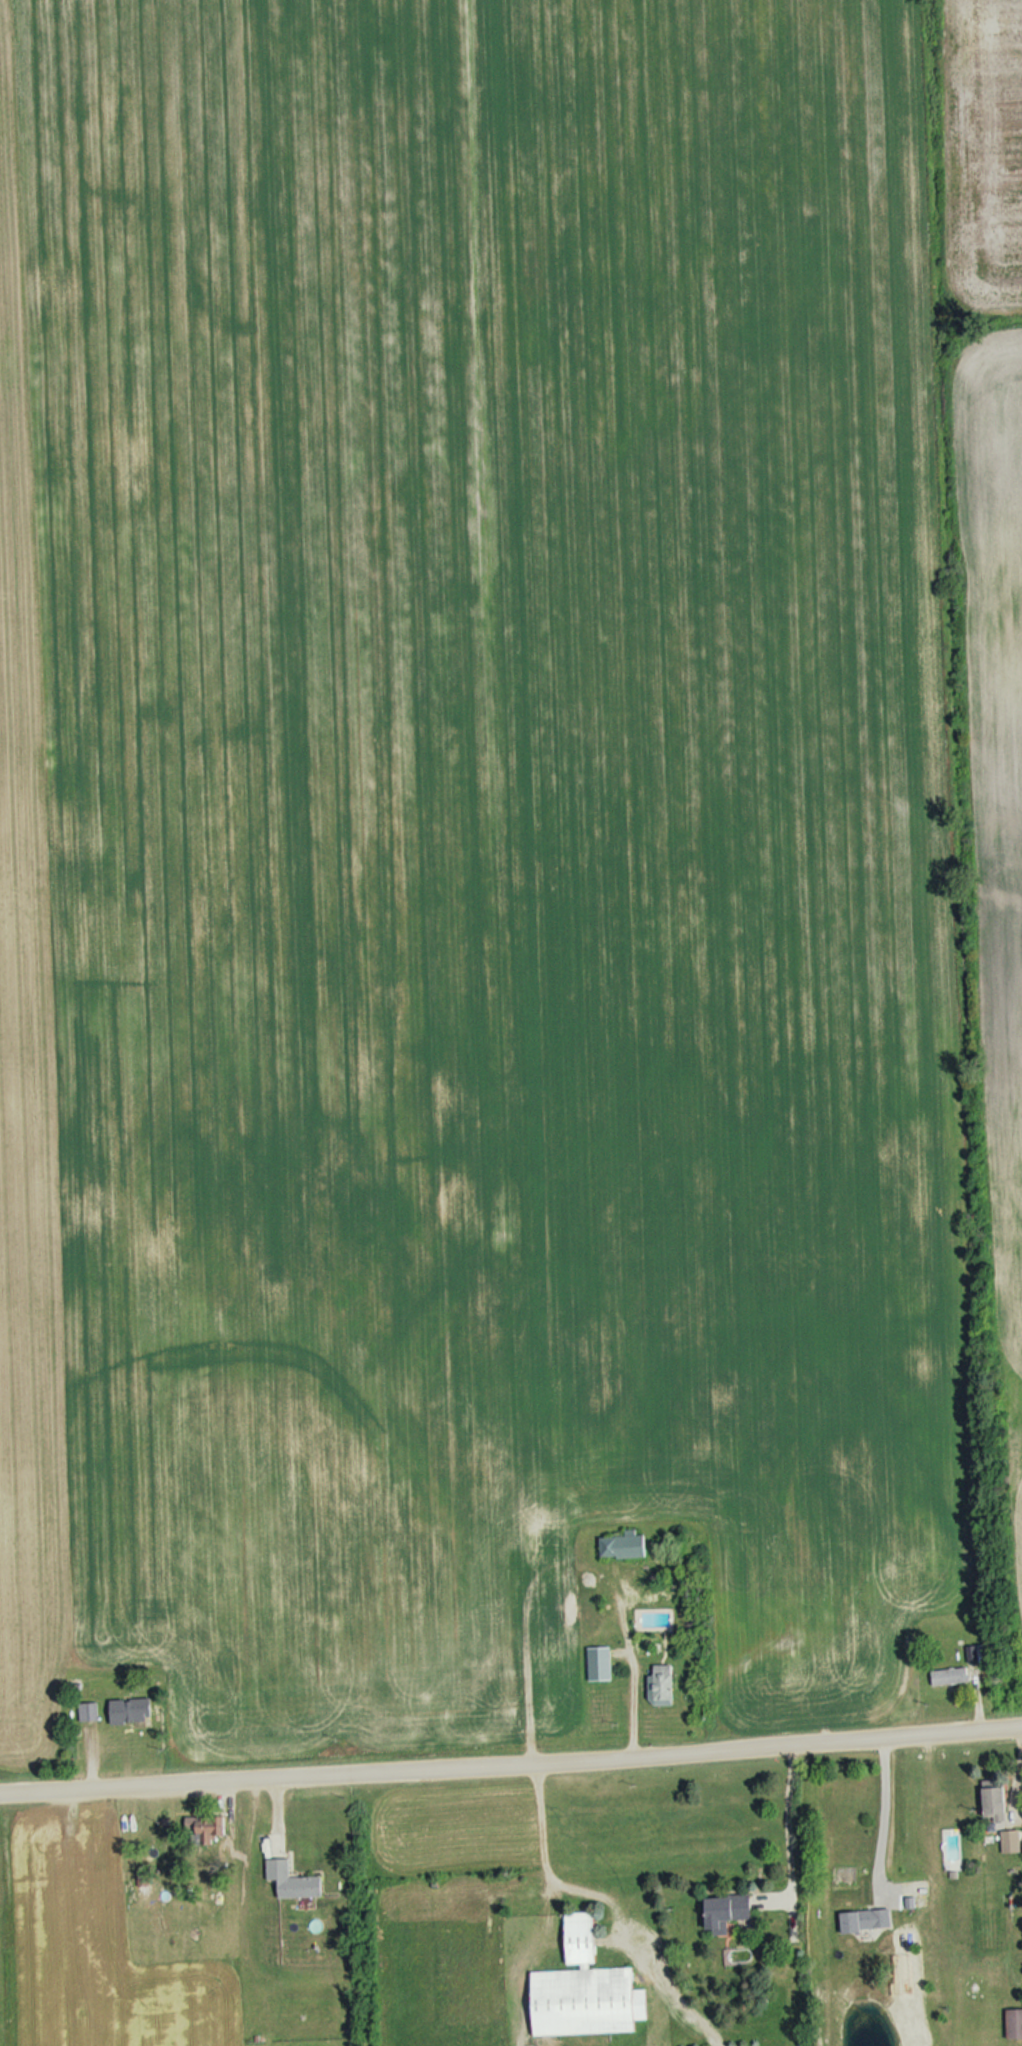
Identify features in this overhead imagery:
building: (622, 1544)
building: (572, 1604)
road: (519, 1645)
building: (600, 1661)
building: (952, 1674)
building: (661, 1683)
road: (626, 1699)
building: (132, 1710)
building: (89, 1711)
road: (511, 1764)
building: (995, 1803)
road: (879, 1812)
road: (779, 1820)
building: (208, 1827)
road: (533, 1833)
building: (1010, 1840)
building: (112, 1854)
building: (292, 1879)
building: (726, 1910)
building: (866, 1918)
building: (585, 1988)
building: (1014, 2023)

